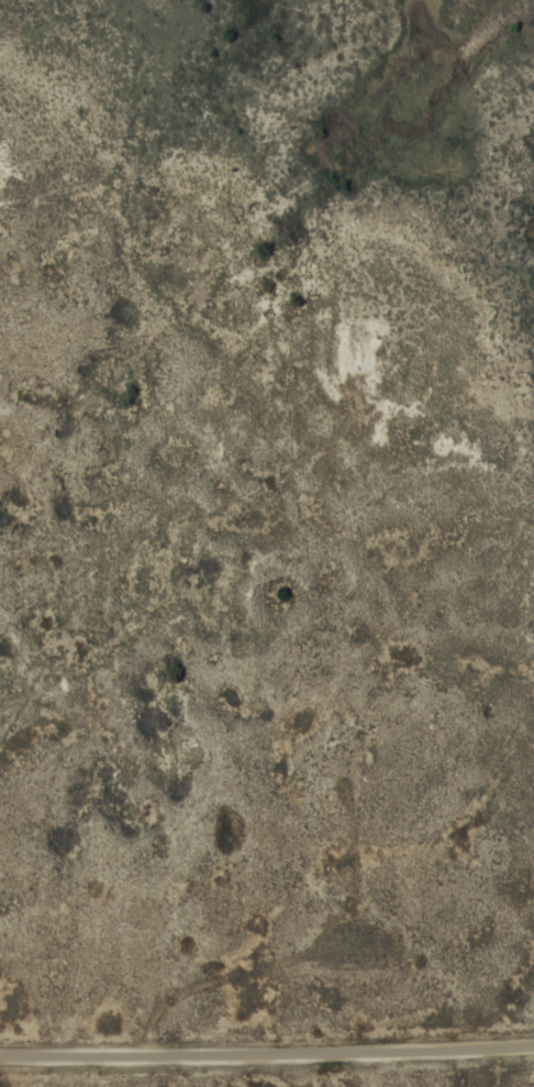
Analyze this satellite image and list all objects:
road: (267, 1051)

